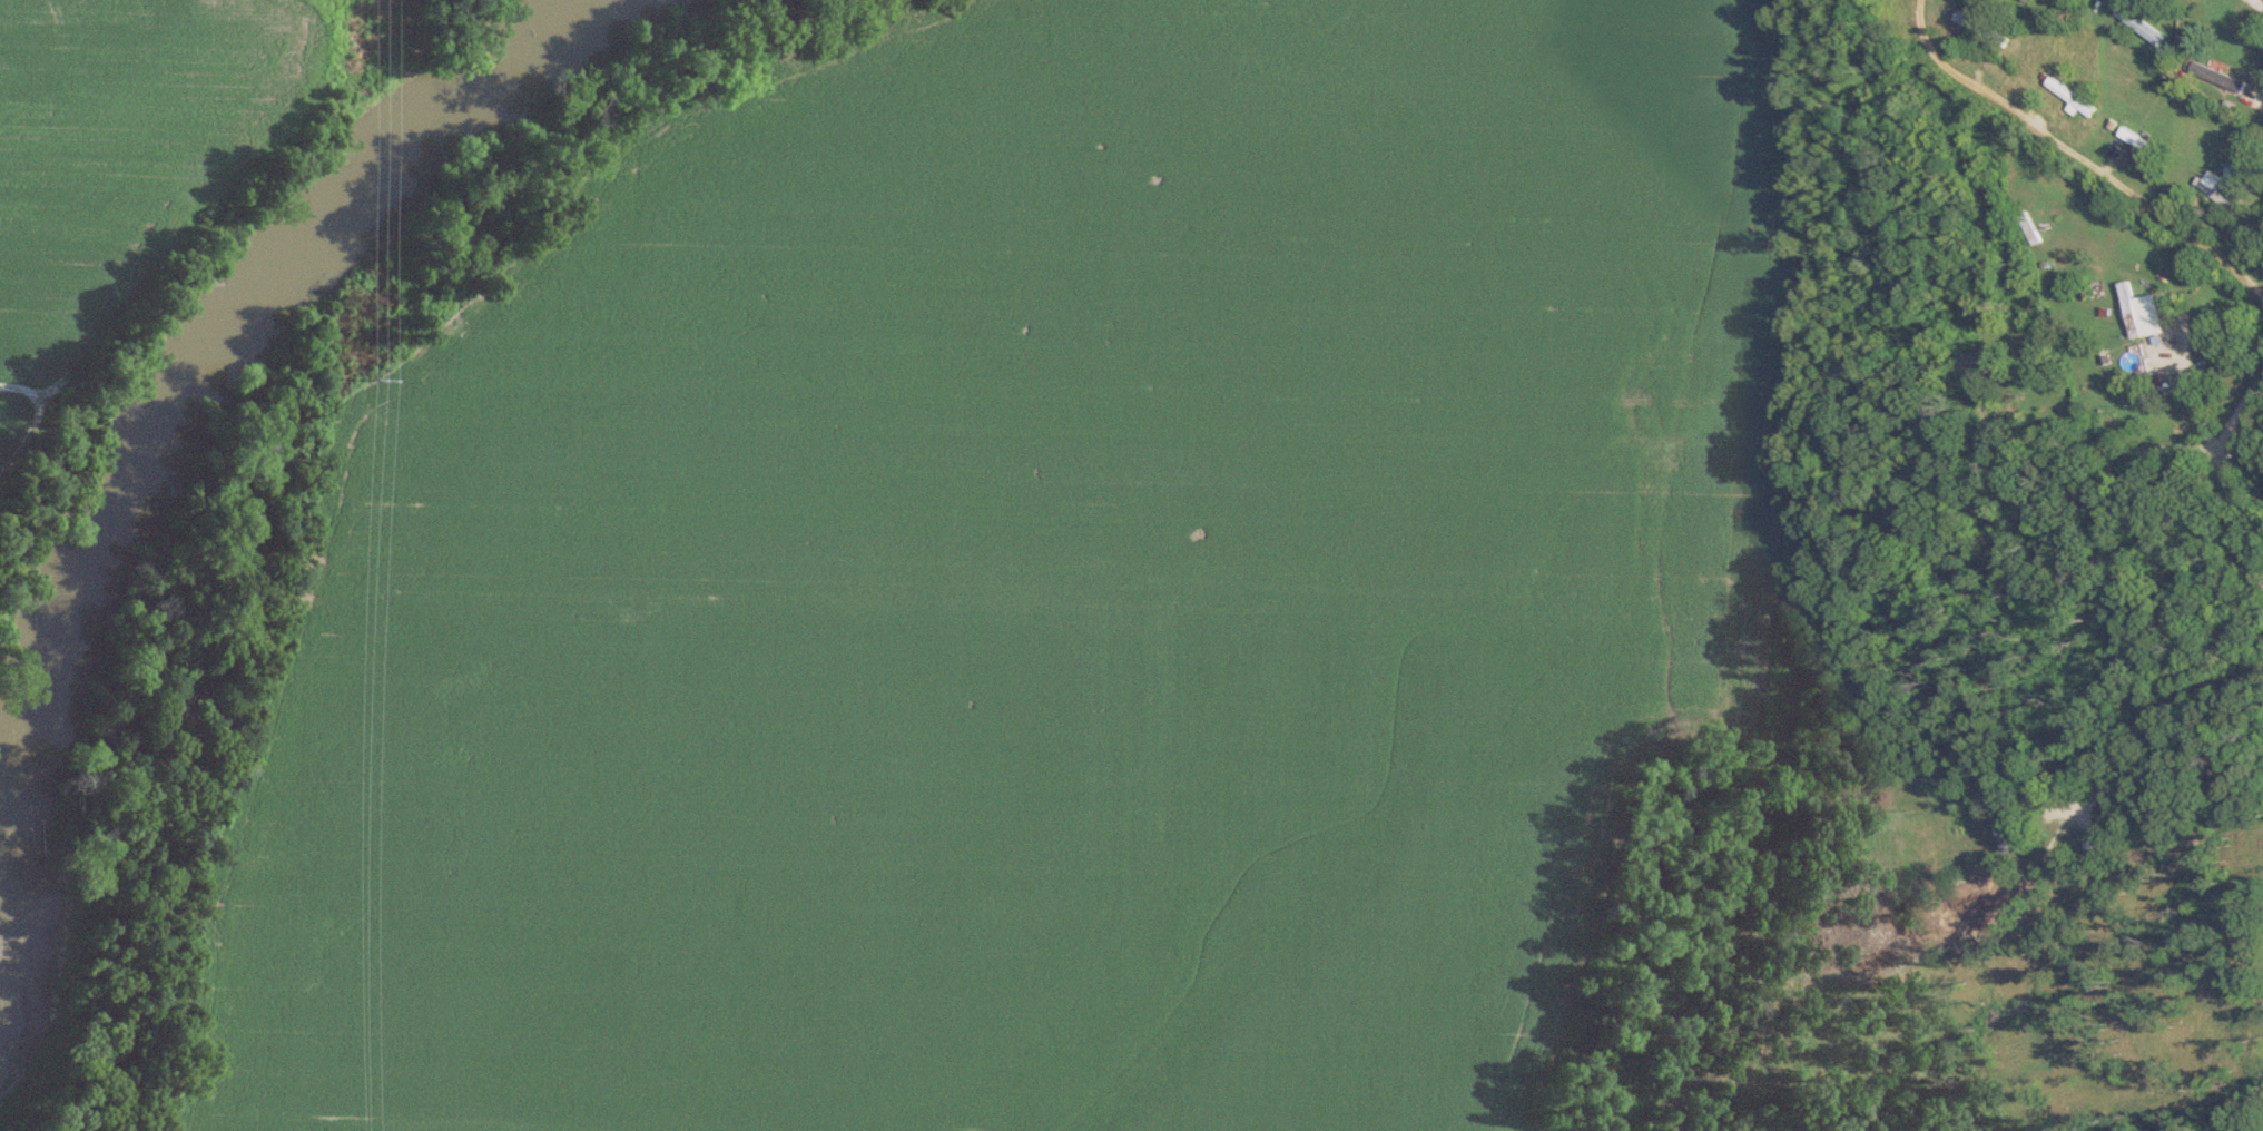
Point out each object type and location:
building: (2141, 24)
building: (1982, 28)
building: (2220, 76)
building: (2072, 96)
building: (2143, 141)
road: (2078, 158)
building: (2216, 187)
building: (2138, 312)
river: (219, 313)
building: (1980, 361)
road: (2188, 376)
road: (12, 387)
road: (2208, 427)
road: (22, 431)
road: (2084, 451)
road: (2222, 479)
crop: (1024, 588)
road: (2158, 719)
building: (2008, 832)

